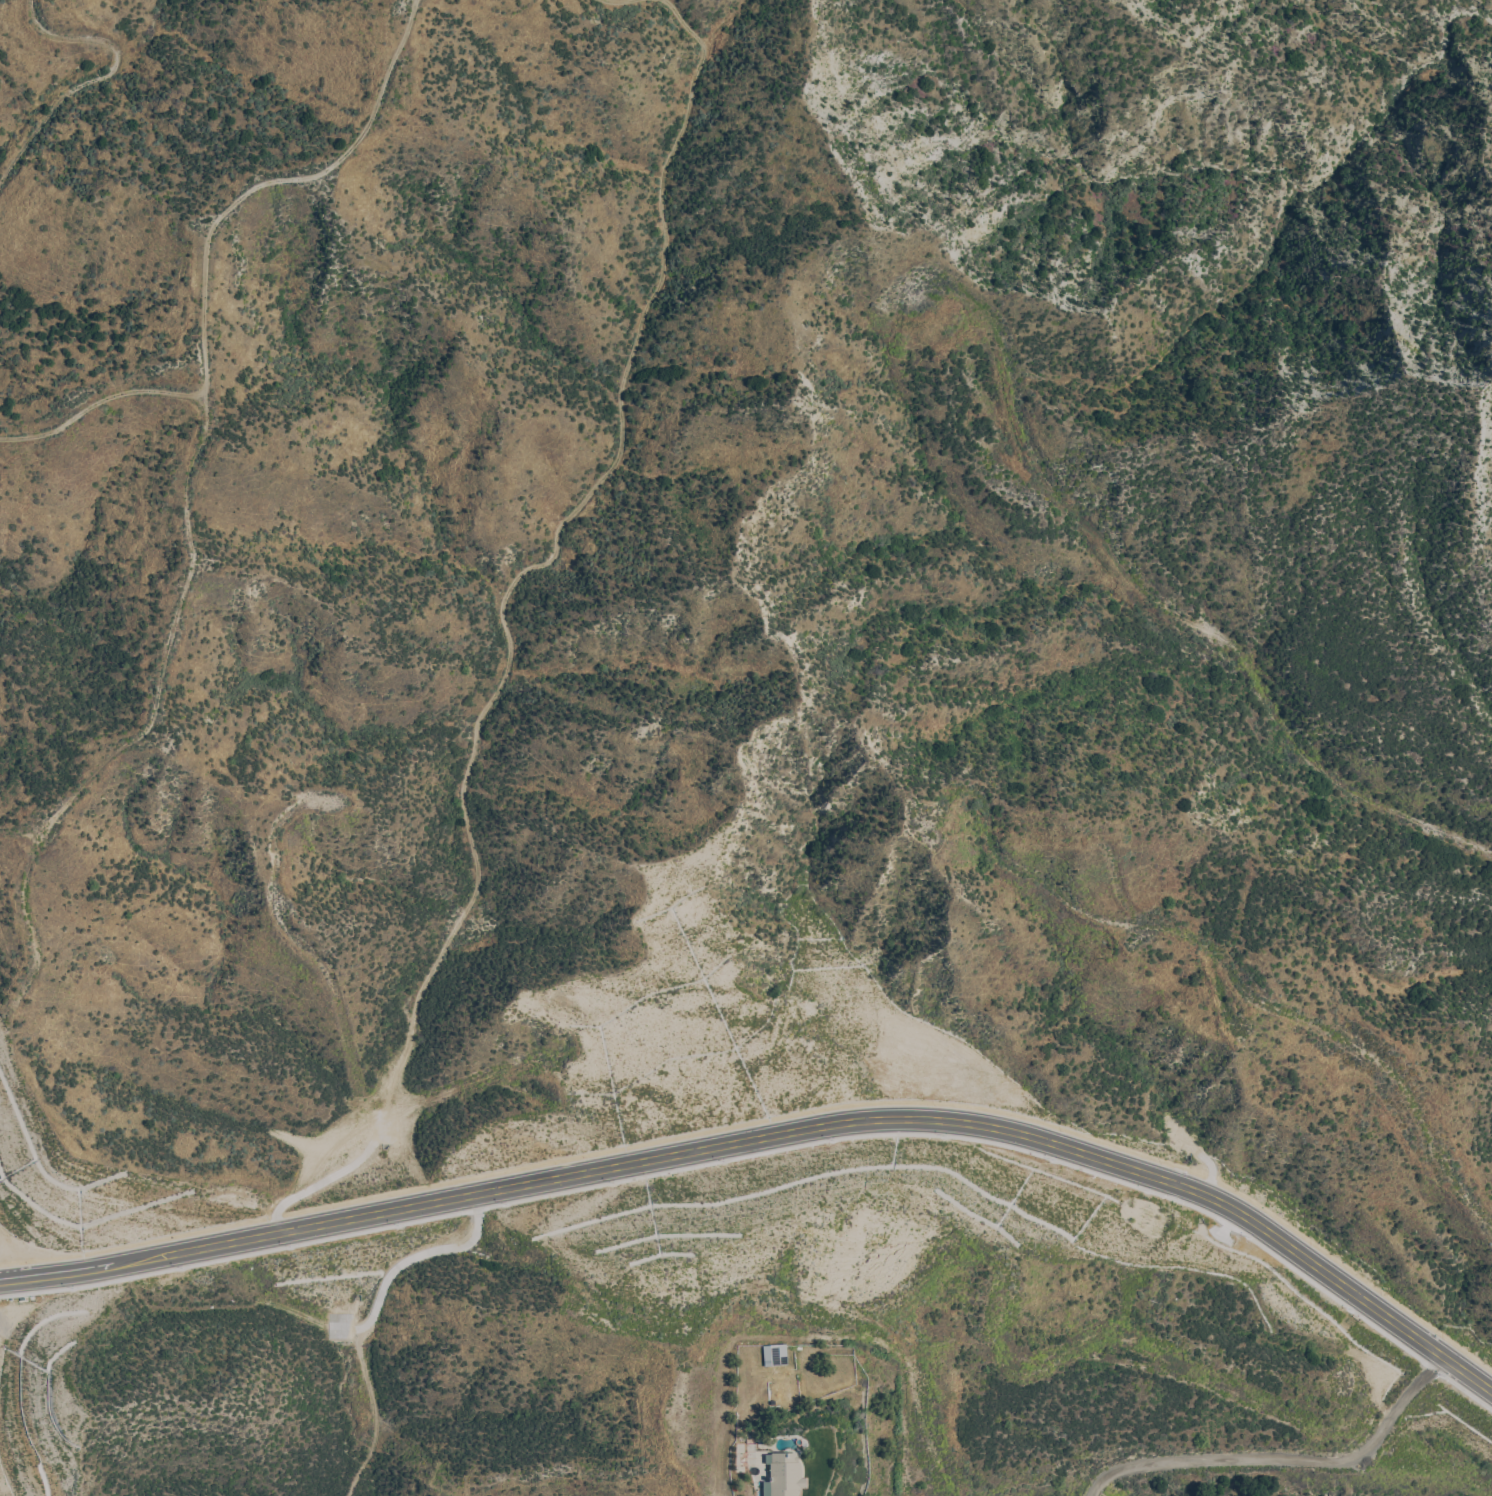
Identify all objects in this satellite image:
road: (480, 1193)
road: (1218, 1201)
building: (775, 1354)
road: (1466, 1372)
road: (1282, 1457)
building: (784, 1475)

